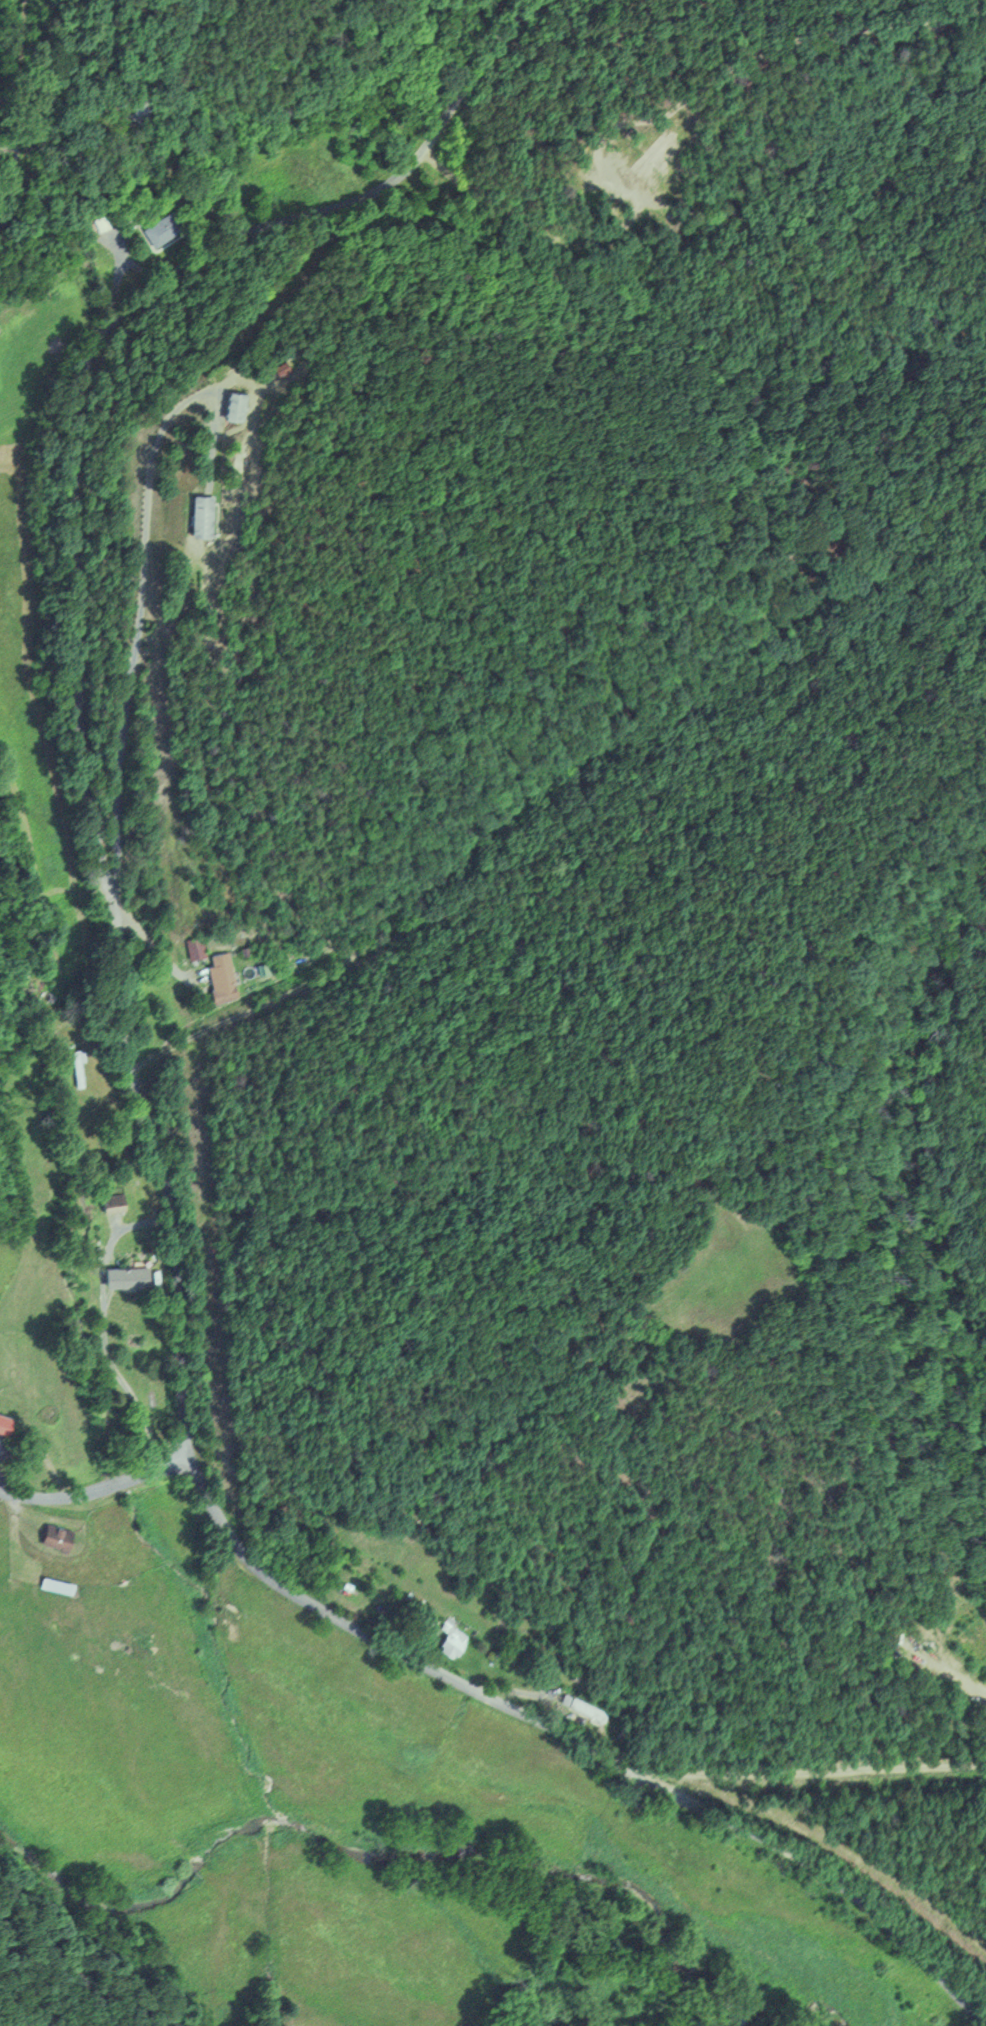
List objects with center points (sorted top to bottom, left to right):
building: (138, 112)
building: (162, 228)
building: (235, 406)
building: (200, 513)
road: (83, 616)
building: (192, 949)
building: (221, 978)
building: (77, 1066)
building: (124, 1275)
building: (1, 1424)
road: (98, 1489)
building: (51, 1535)
building: (449, 1638)
building: (581, 1707)
road: (577, 1741)

